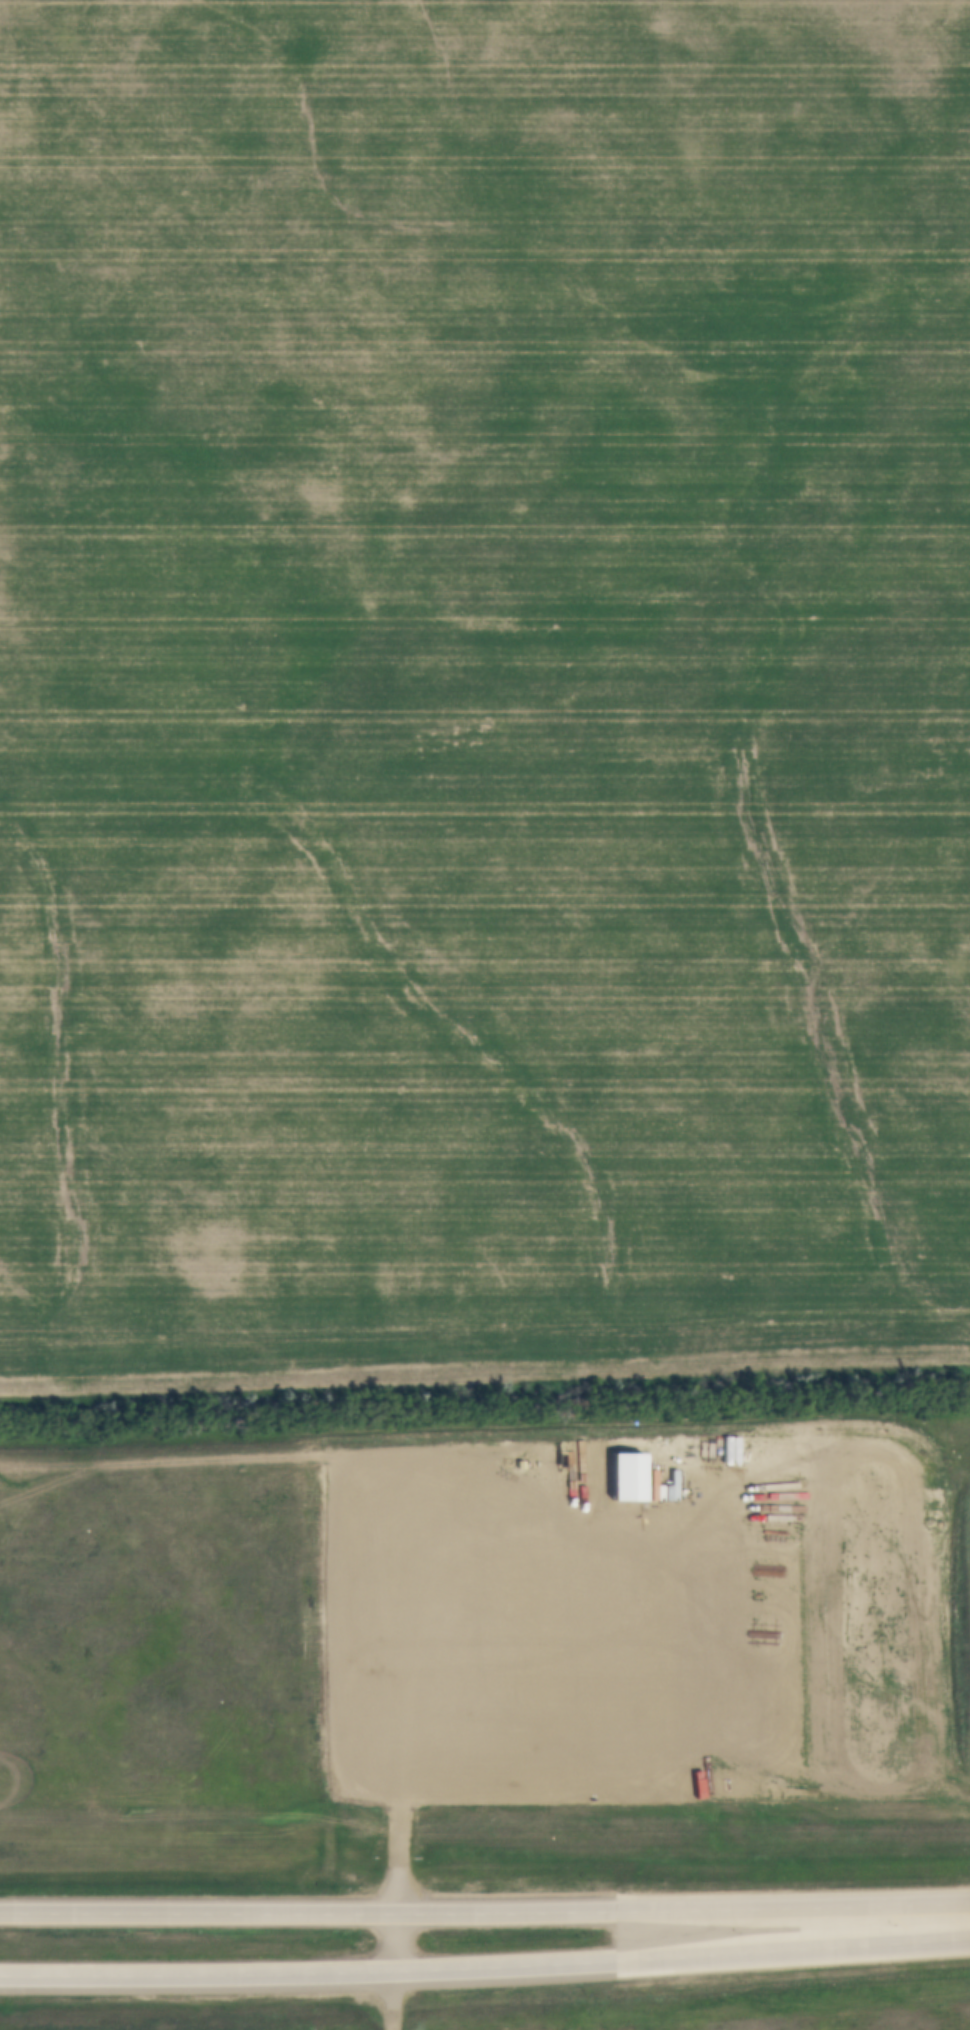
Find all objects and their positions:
building: (348, 1752)
road: (485, 1916)
road: (392, 1945)
road: (485, 1967)
road: (395, 2001)

